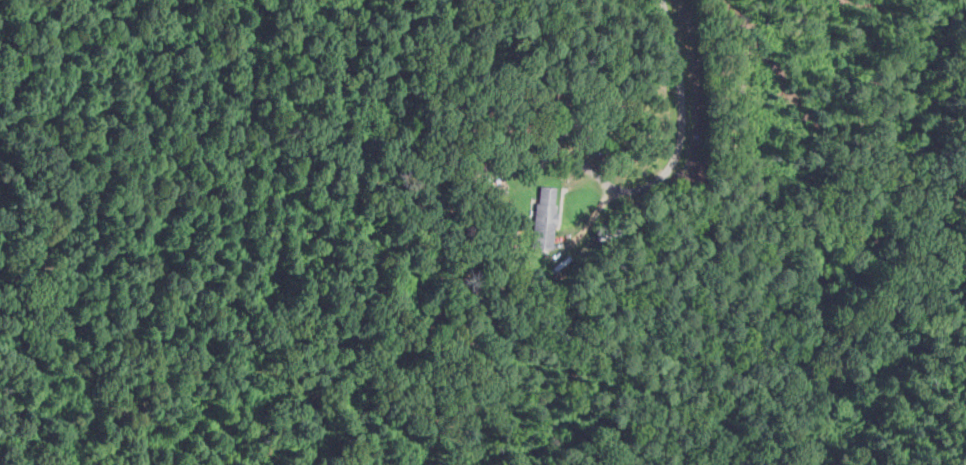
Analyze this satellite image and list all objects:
road: (677, 80)
road: (610, 184)
building: (548, 208)
road: (589, 223)

